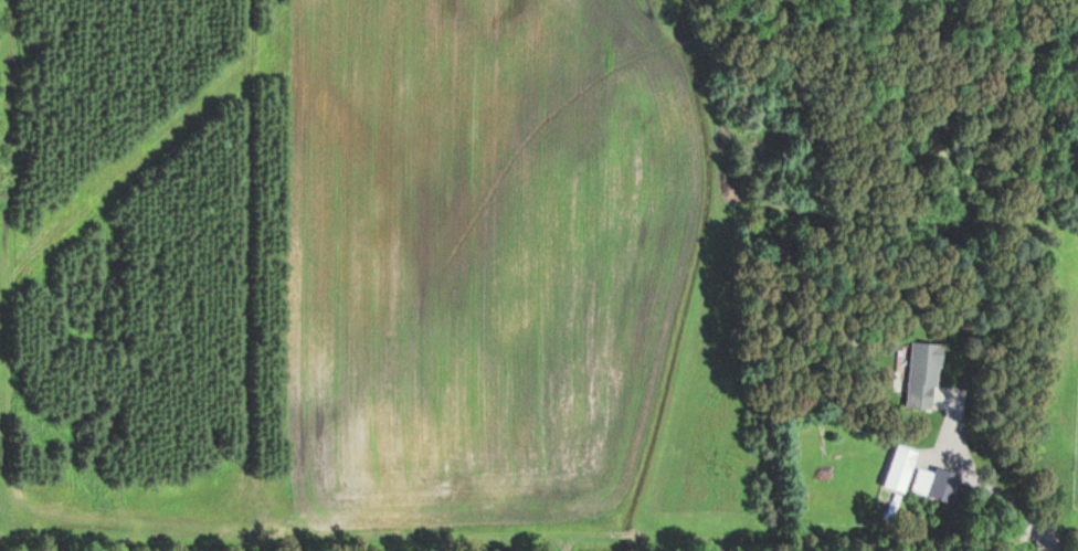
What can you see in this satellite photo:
building: (920, 375)
building: (898, 468)
building: (932, 485)

